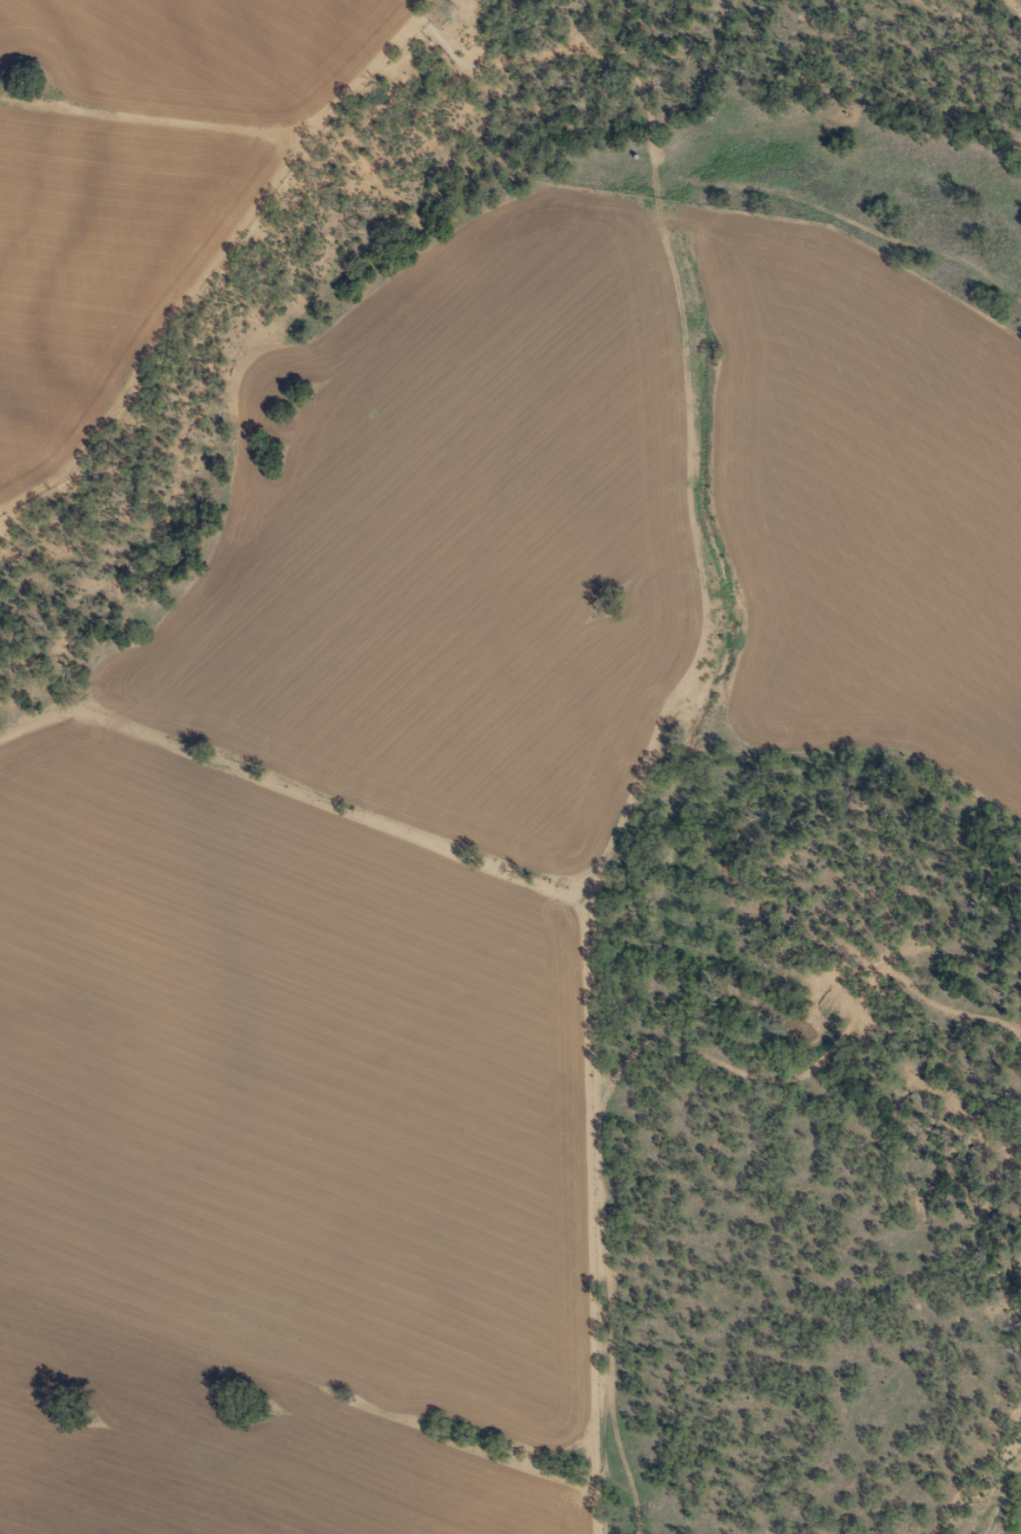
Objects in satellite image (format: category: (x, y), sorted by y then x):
river: (1017, 1529)

